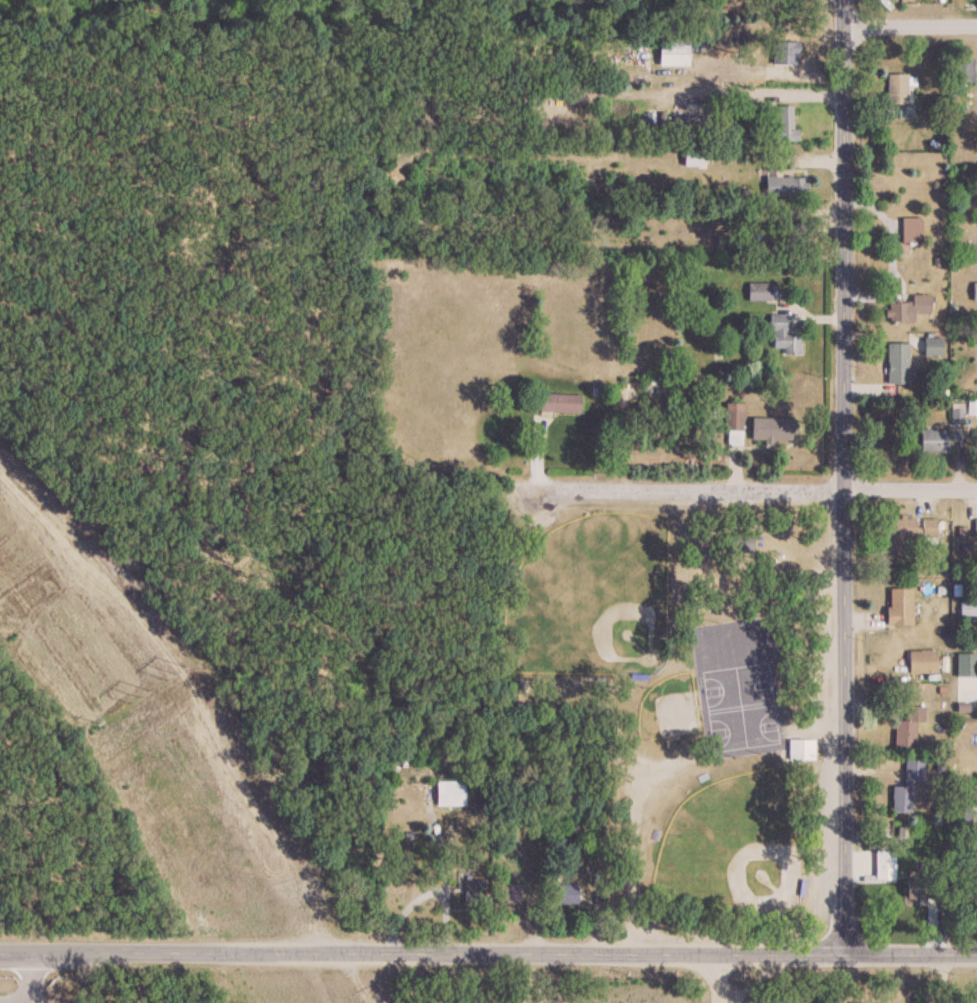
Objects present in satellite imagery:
road: (910, 26)
building: (671, 53)
building: (785, 53)
building: (963, 70)
building: (896, 89)
road: (754, 91)
building: (780, 123)
building: (785, 185)
building: (910, 230)
building: (793, 235)
road: (891, 252)
building: (757, 291)
building: (974, 291)
building: (907, 309)
building: (781, 334)
building: (931, 347)
building: (896, 363)
building: (558, 403)
building: (733, 416)
building: (770, 428)
building: (932, 441)
road: (839, 476)
road: (754, 488)
building: (974, 528)
building: (927, 529)
building: (899, 533)
building: (737, 542)
park: (590, 598)
building: (898, 607)
building: (921, 662)
power tower: (178, 671)
parking lot: (738, 685)
power tower: (131, 693)
park: (667, 708)
park: (672, 715)
building: (906, 728)
building: (799, 749)
building: (905, 787)
building: (448, 793)
park: (732, 847)
building: (882, 865)
building: (918, 886)
building: (473, 891)
building: (507, 892)
building: (565, 893)
road: (488, 953)
road: (390, 978)
road: (716, 978)
road: (944, 978)
road: (38, 999)

